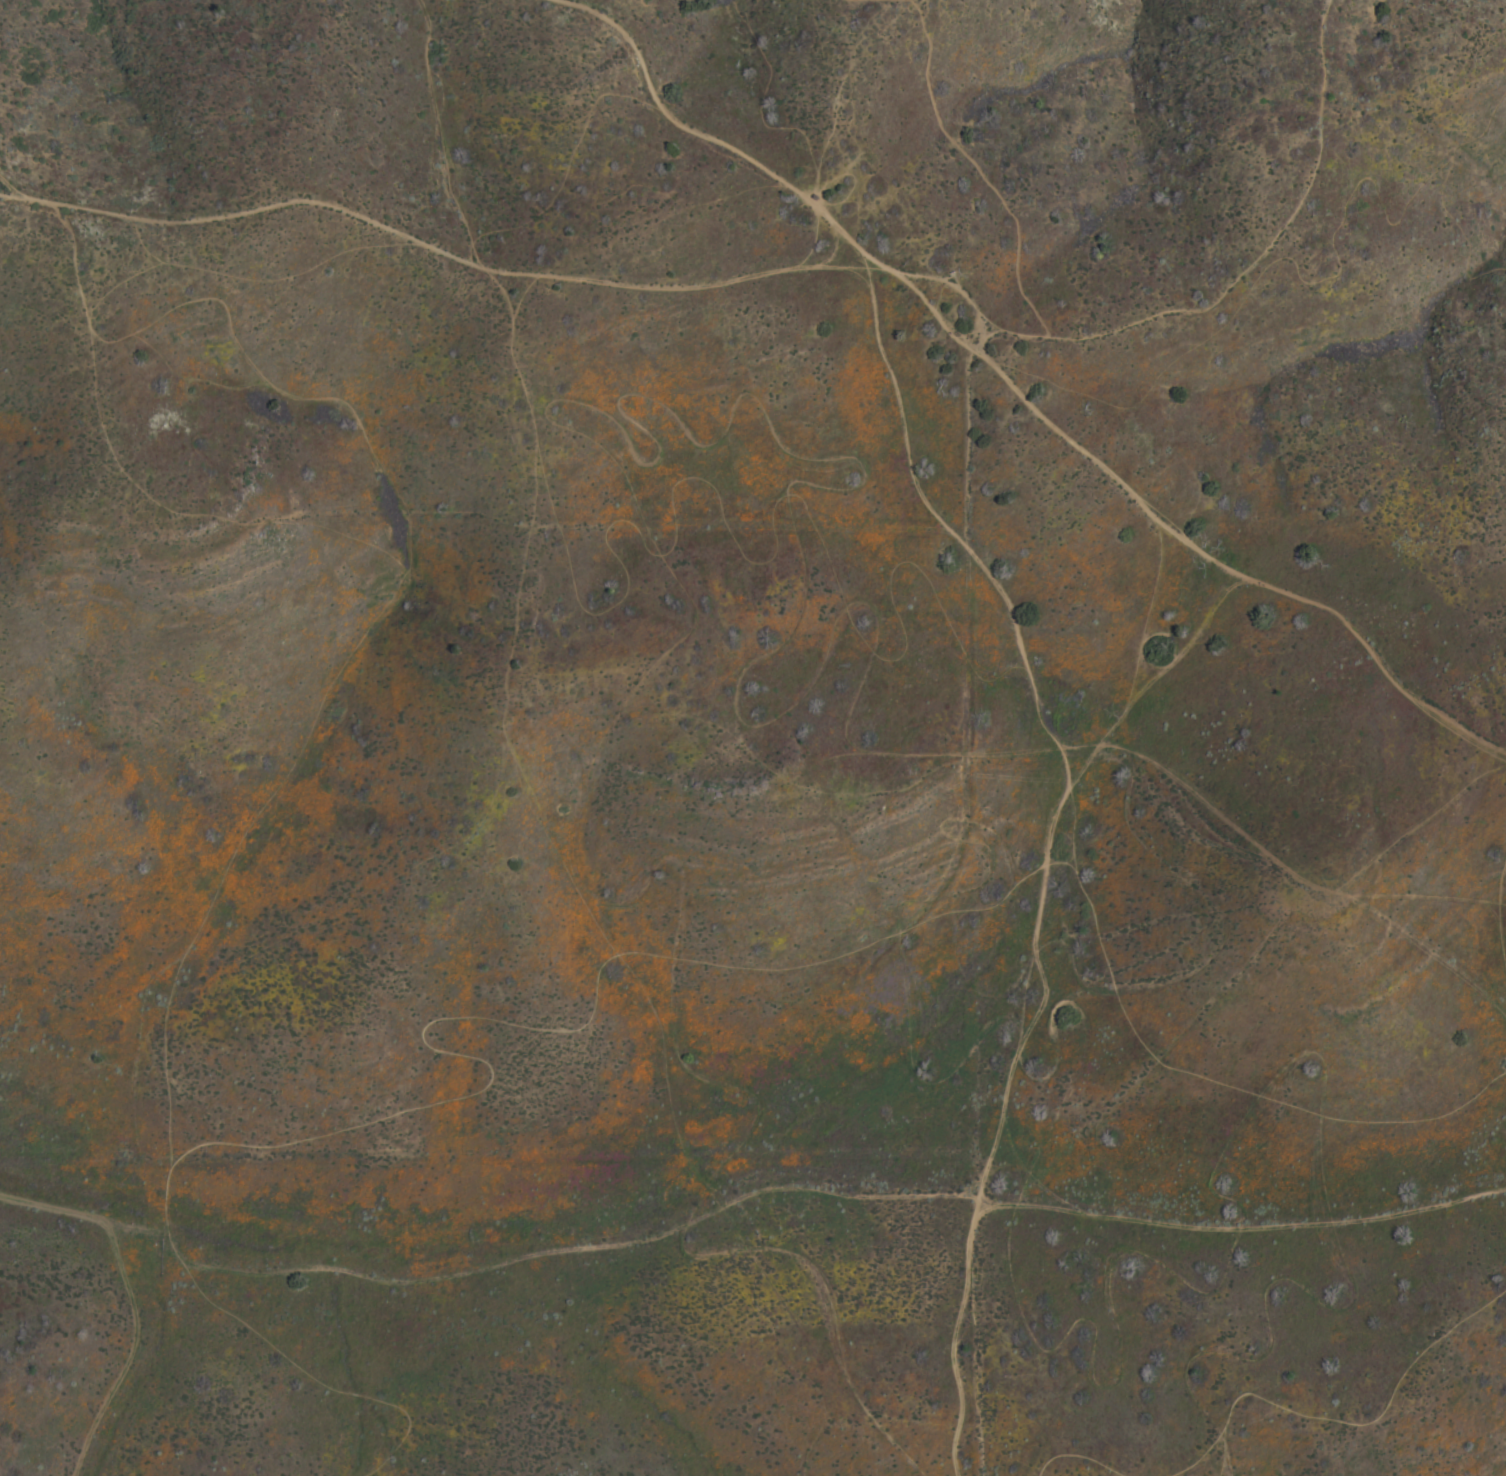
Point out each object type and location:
road: (1022, 394)
road: (1498, 892)
road: (743, 1199)
road: (957, 1335)
road: (128, 1354)

